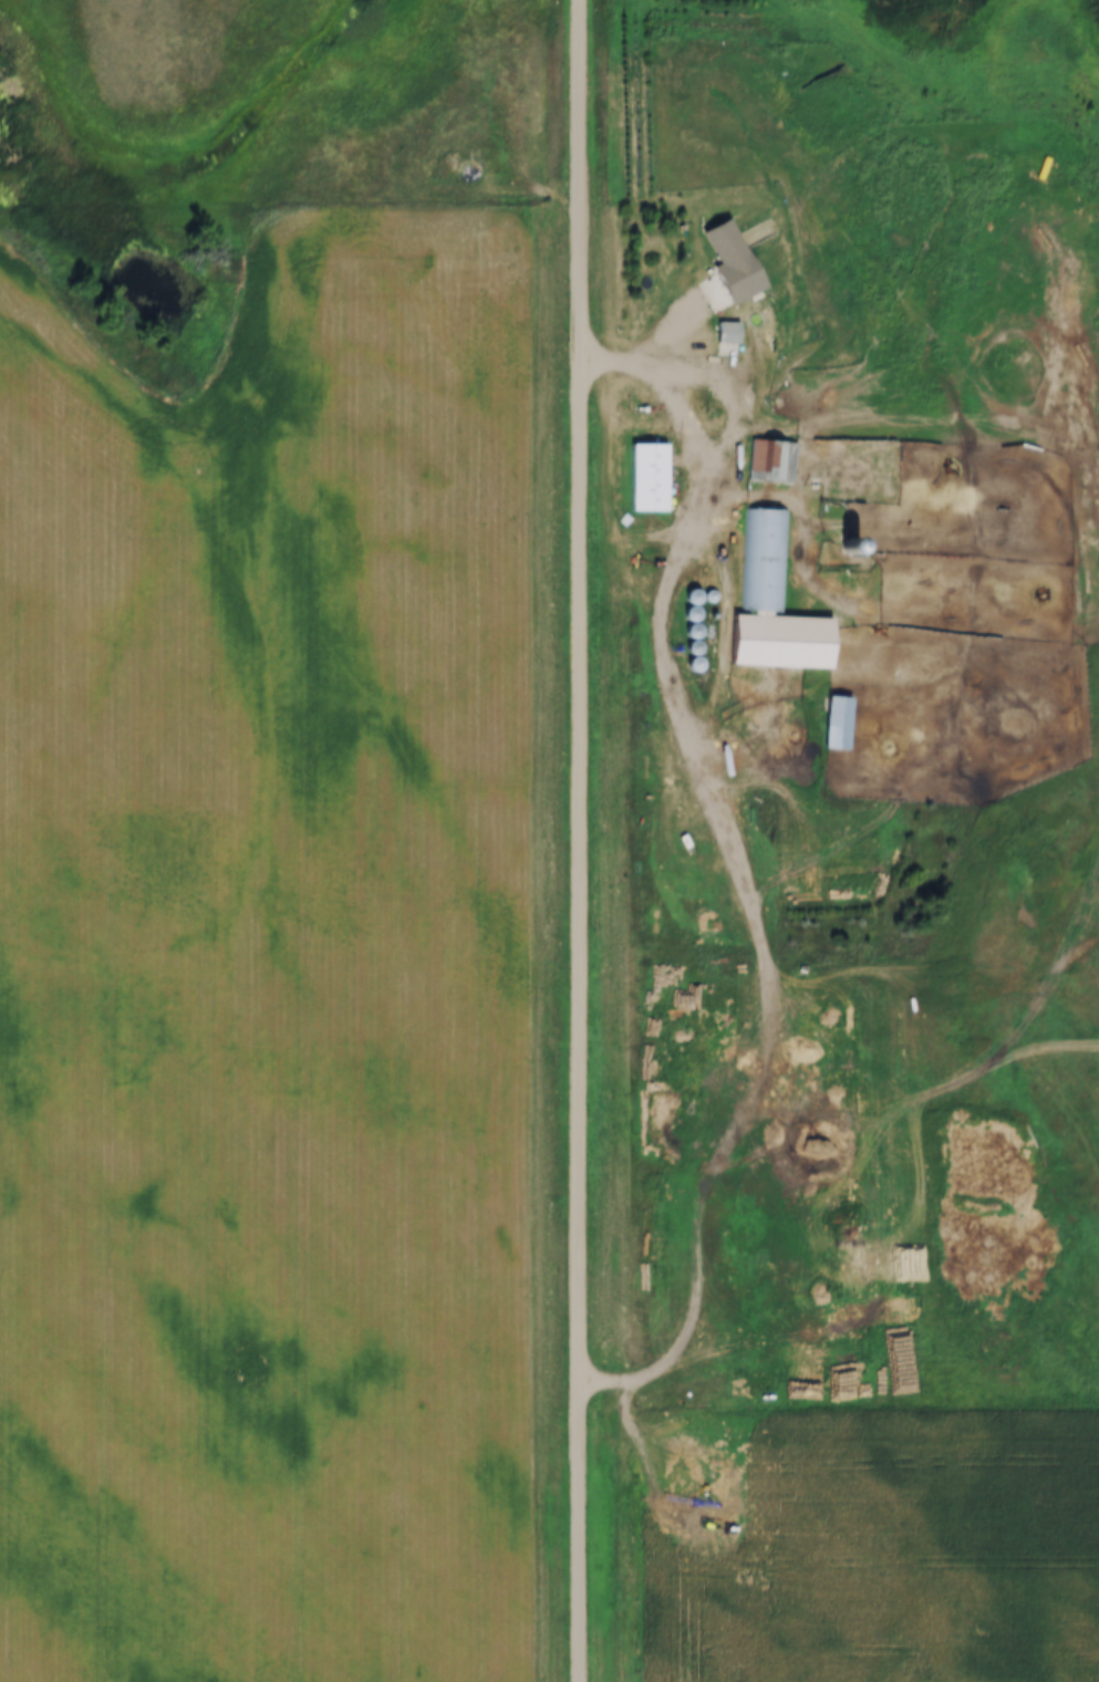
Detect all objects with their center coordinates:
building: (727, 332)
building: (696, 339)
road: (676, 374)
building: (770, 461)
building: (647, 477)
building: (764, 559)
building: (692, 630)
building: (813, 632)
building: (694, 664)
building: (836, 723)
road: (581, 840)

